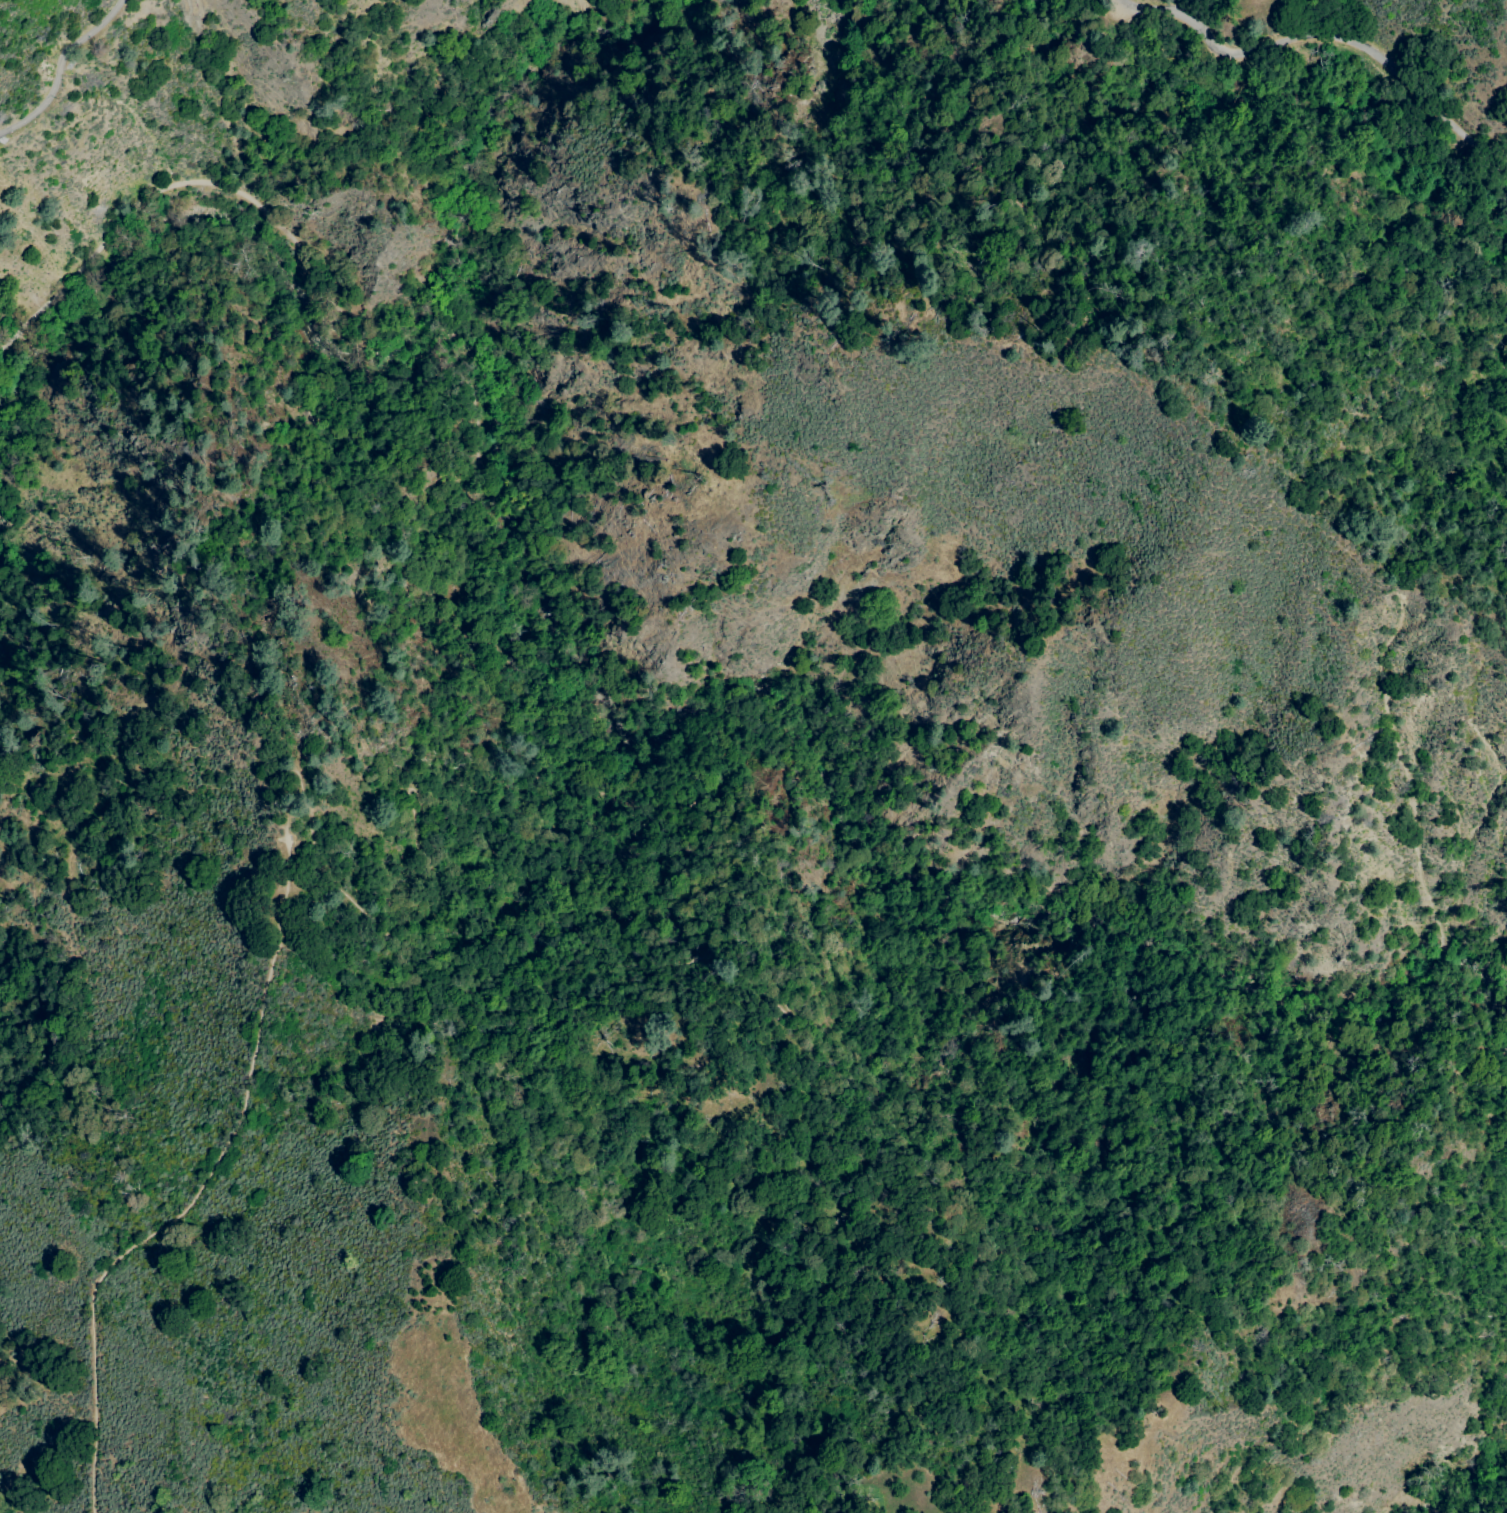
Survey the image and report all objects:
road: (1326, 39)
road: (63, 67)
road: (167, 185)
road: (336, 325)
park: (796, 665)
road: (253, 721)
road: (312, 835)
road: (554, 882)
road: (532, 1011)
road: (725, 1076)
road: (196, 1192)

